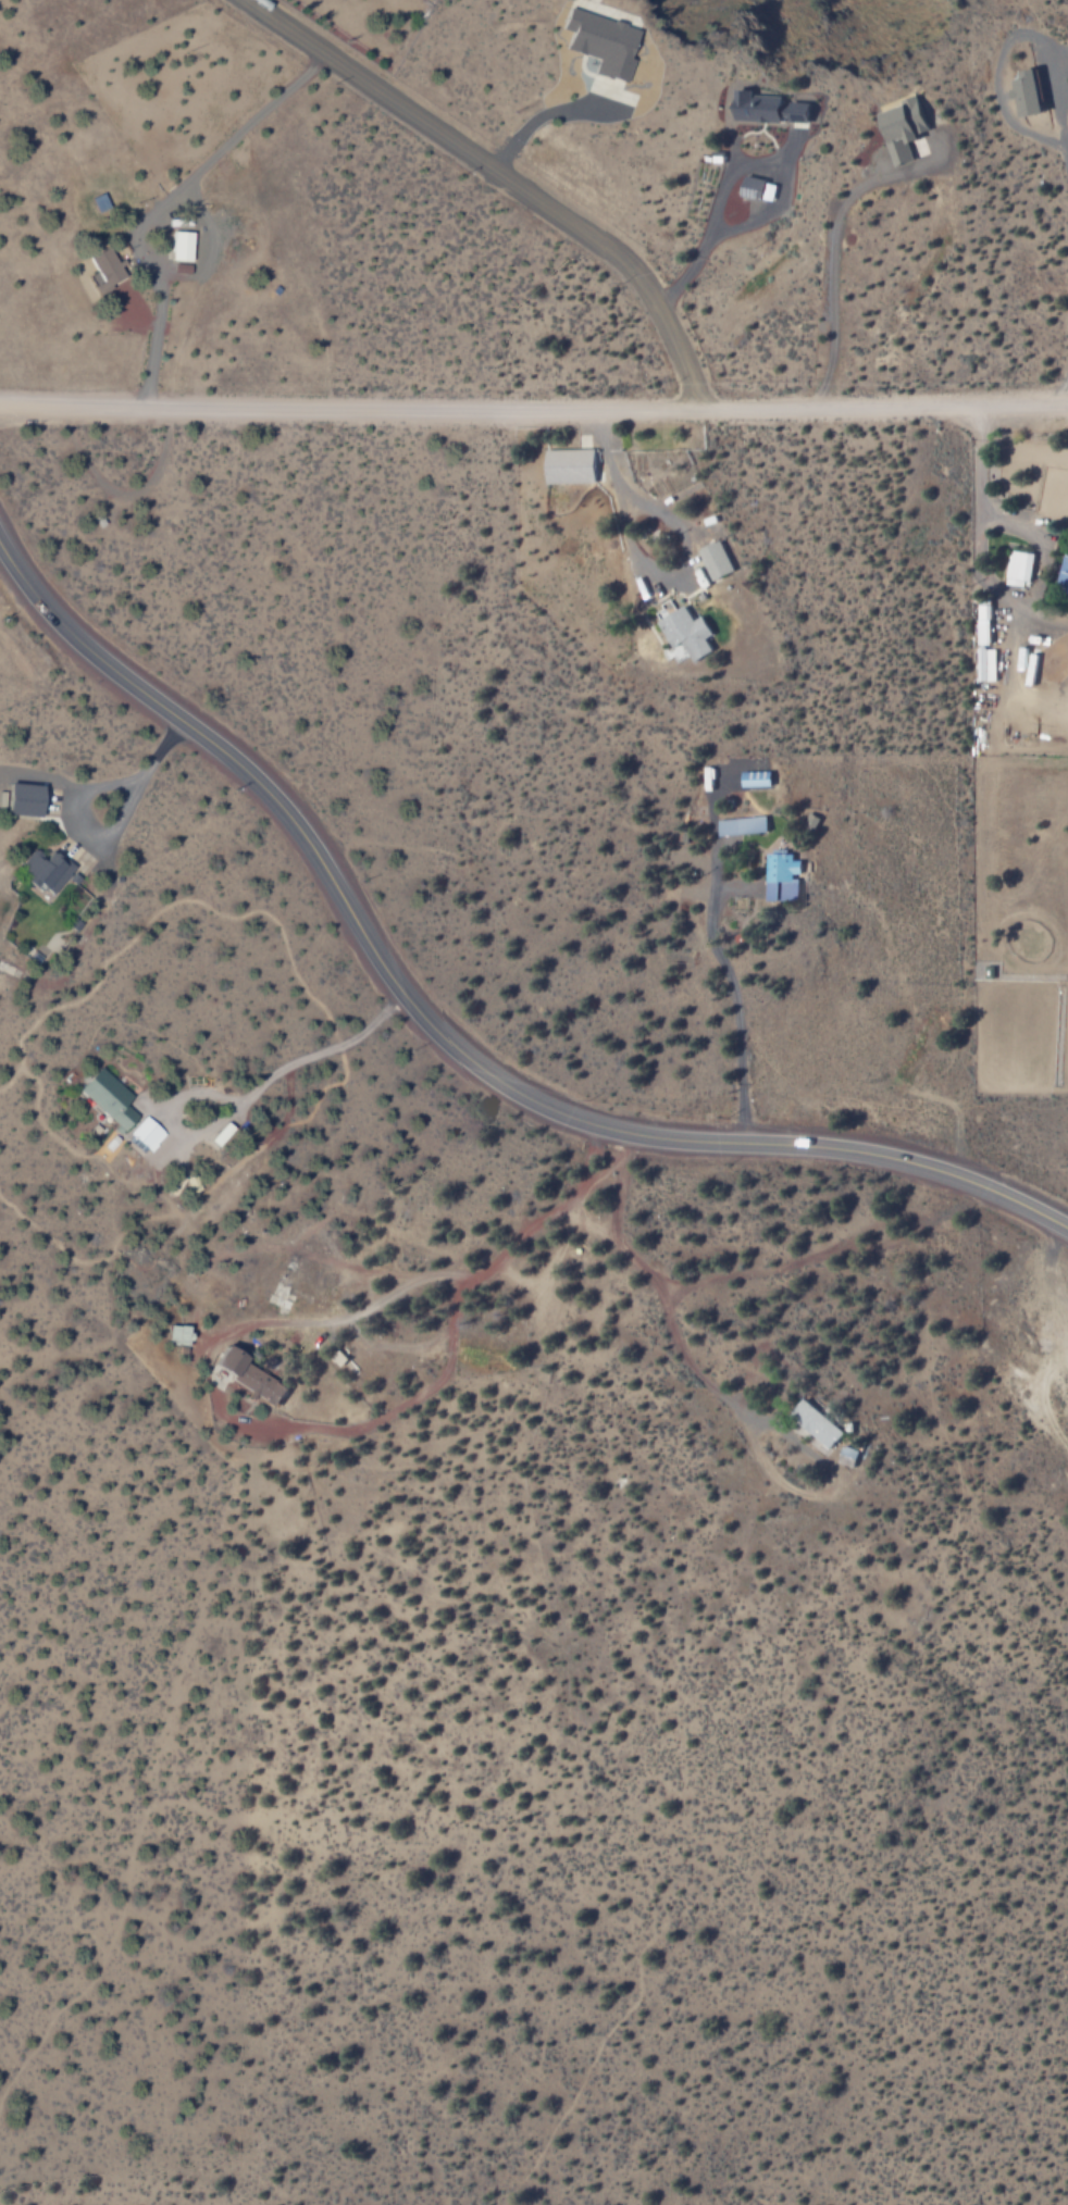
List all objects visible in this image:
building: (603, 42)
building: (1030, 92)
building: (772, 108)
building: (906, 128)
road: (498, 177)
building: (101, 202)
building: (184, 246)
building: (107, 270)
road: (883, 406)
road: (349, 407)
building: (570, 465)
building: (717, 561)
road: (642, 569)
building: (1063, 572)
building: (984, 624)
building: (685, 630)
building: (986, 664)
building: (27, 799)
building: (811, 821)
building: (743, 826)
building: (49, 869)
building: (783, 877)
road: (734, 992)
road: (439, 1038)
building: (110, 1098)
building: (149, 1133)
building: (253, 1376)
building: (818, 1423)

